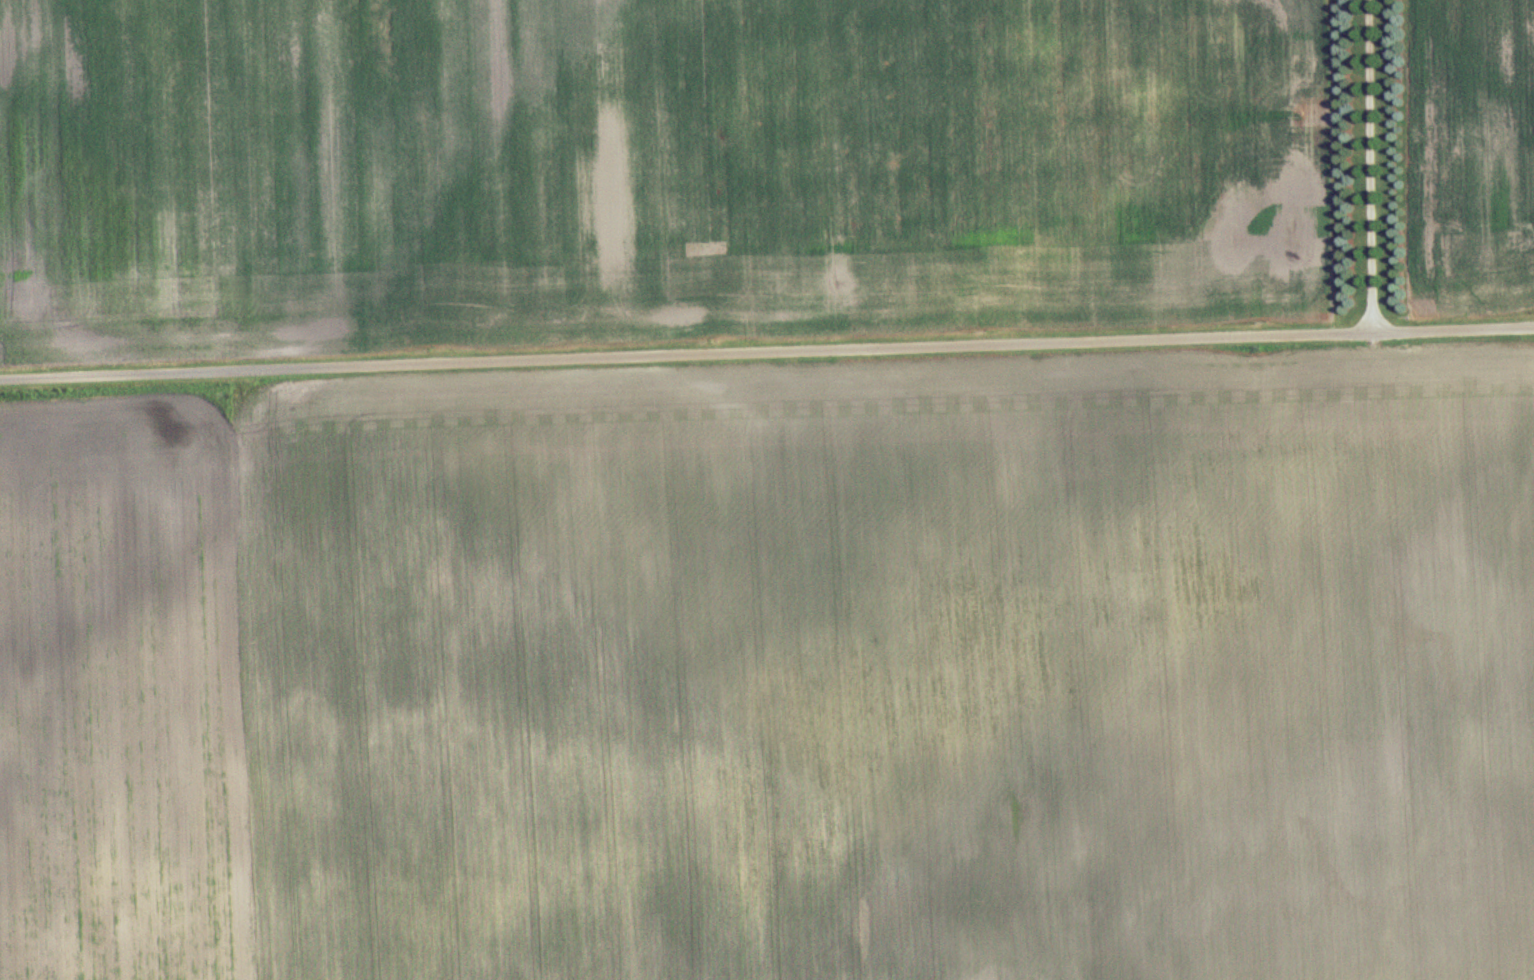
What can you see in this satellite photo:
road: (1370, 168)
road: (767, 355)

